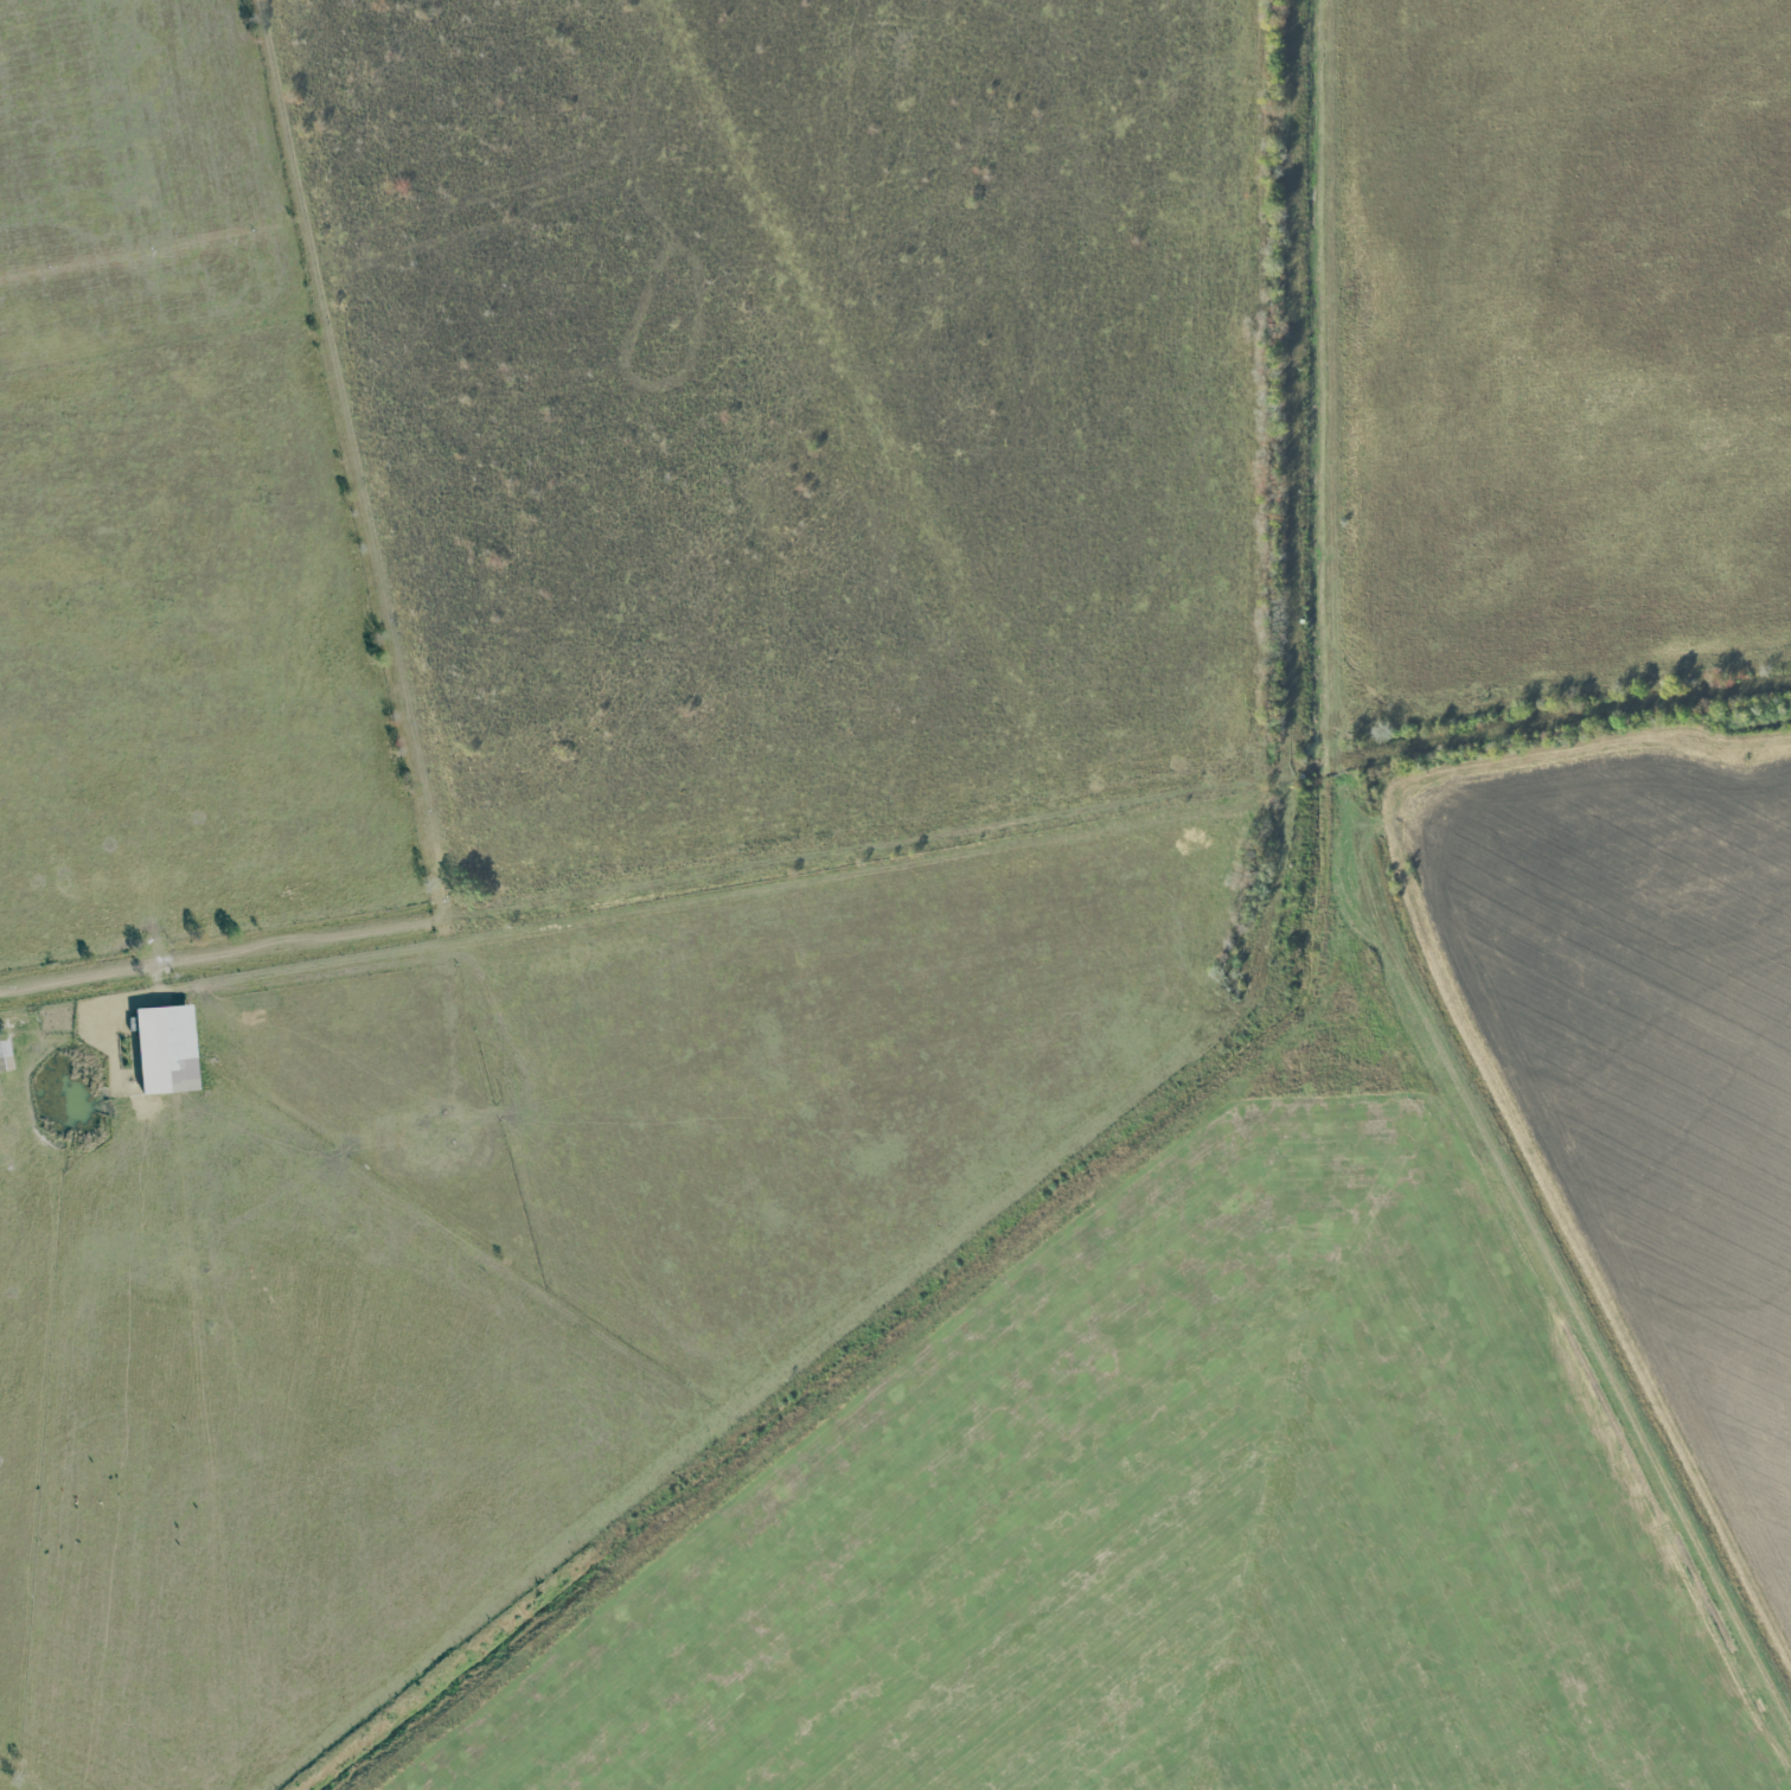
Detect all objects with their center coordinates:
road: (84, 980)
building: (160, 1049)

